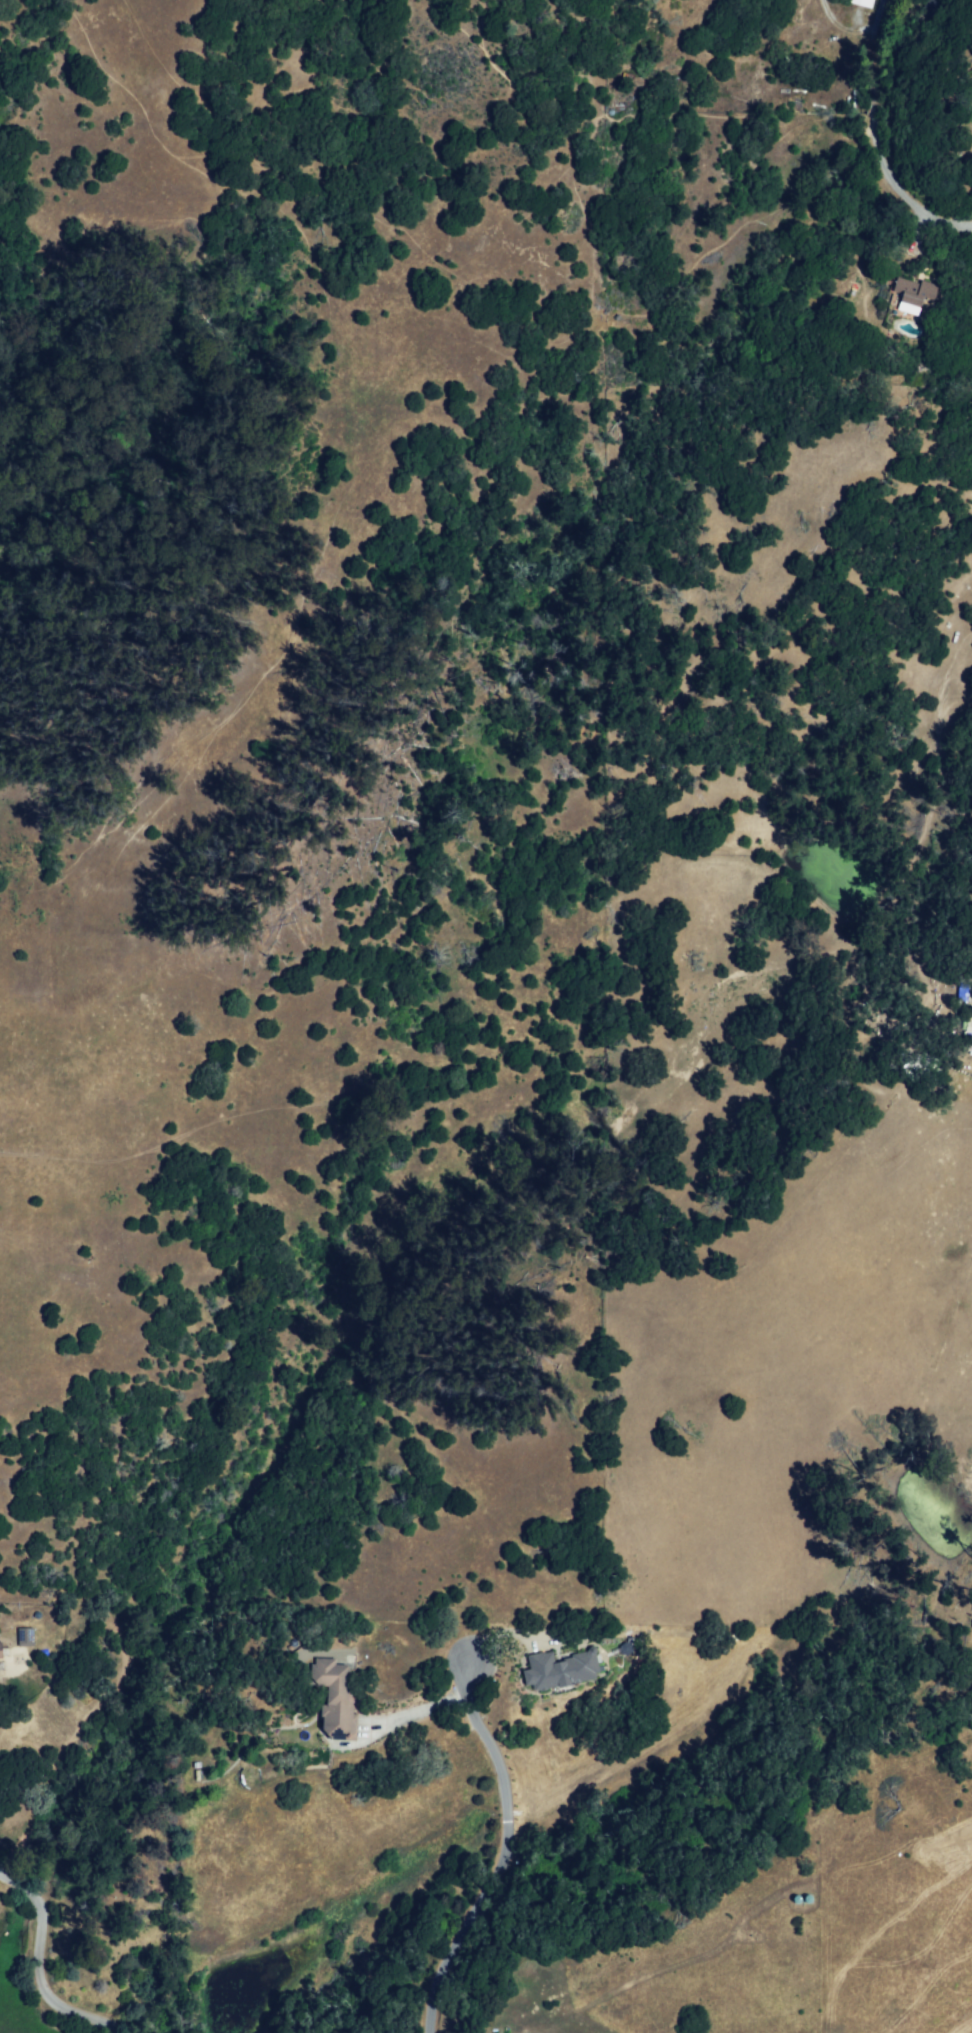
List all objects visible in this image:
building: (863, 1)
building: (930, 5)
road: (878, 133)
building: (922, 283)
building: (970, 1049)
road: (47, 1144)
building: (24, 1636)
building: (1, 1657)
building: (560, 1672)
building: (334, 1701)
road: (413, 1711)
road: (667, 1747)
road: (491, 1758)
road: (41, 1962)
road: (440, 2007)

